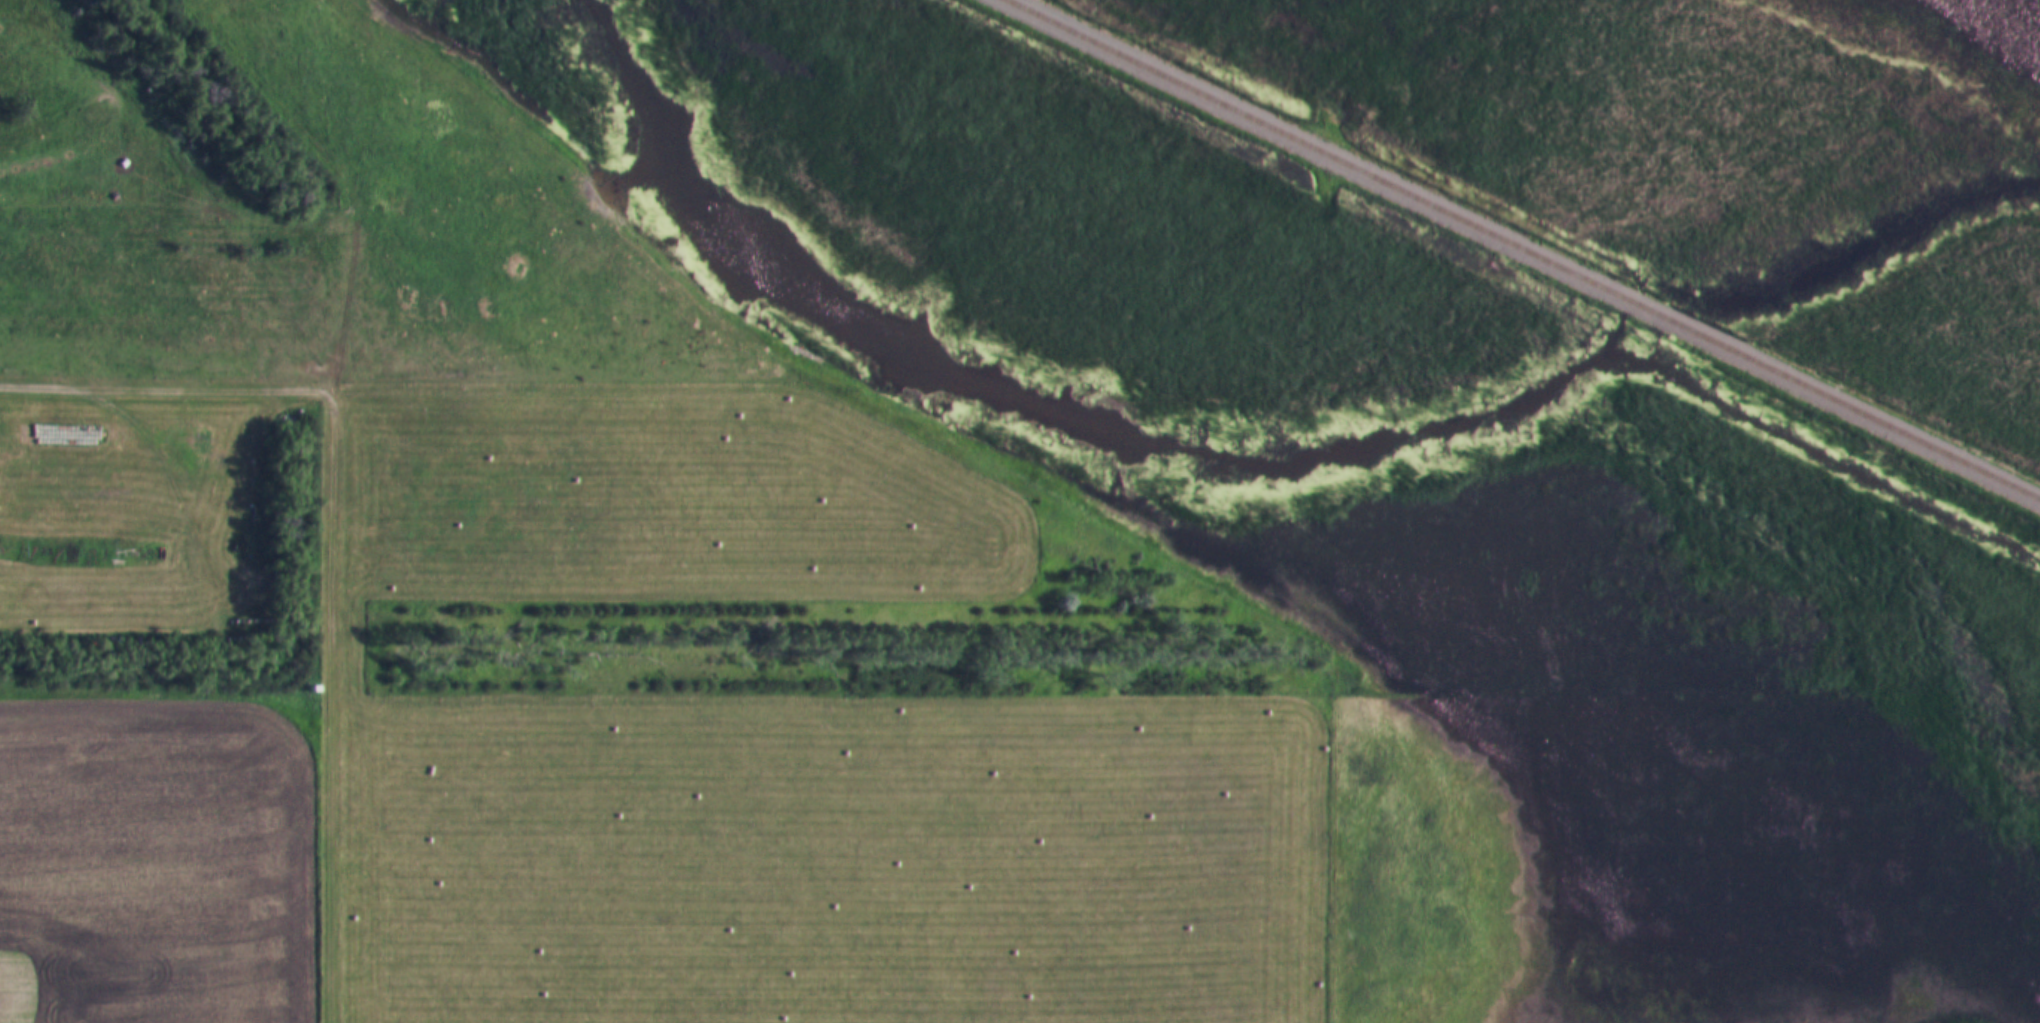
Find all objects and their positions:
river: (1862, 242)
railway: (1521, 250)
river: (1679, 325)
river: (1043, 412)
road: (331, 539)

